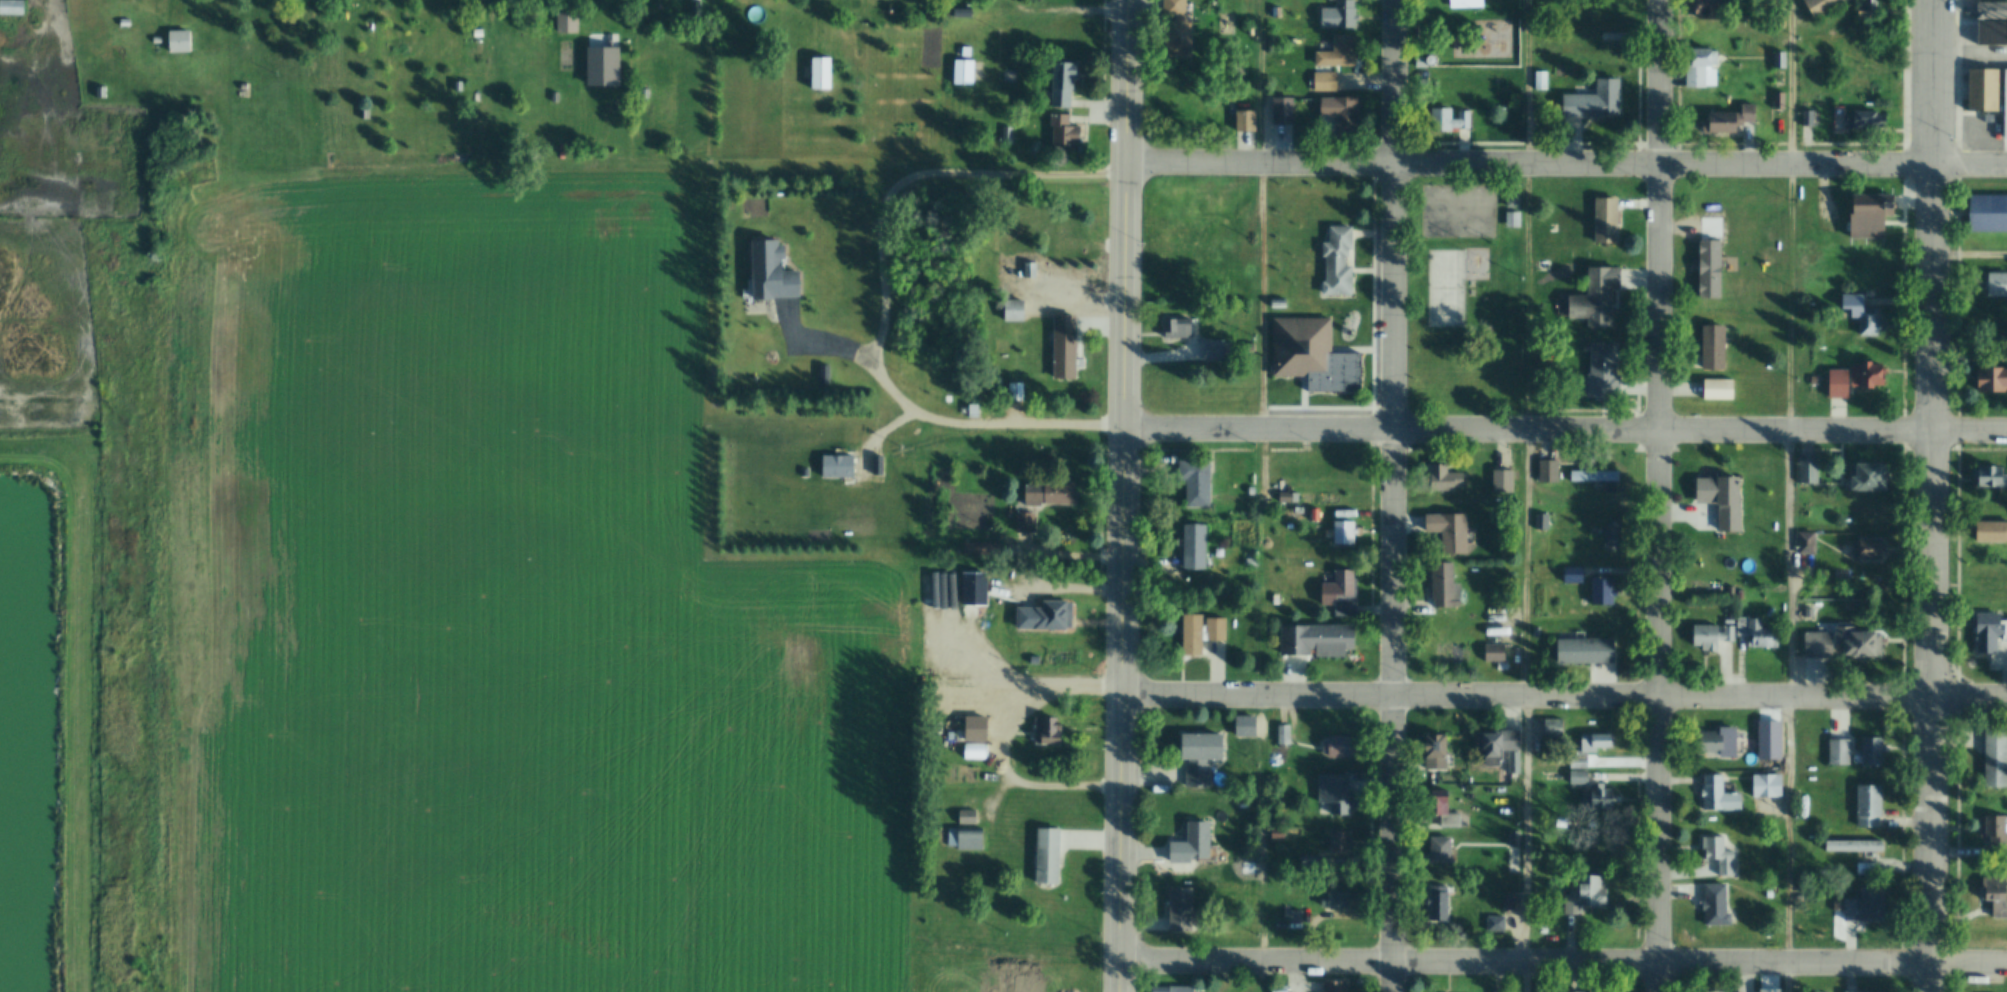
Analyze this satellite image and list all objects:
building: (1541, 1)
building: (1468, 4)
building: (1877, 6)
building: (1828, 7)
building: (12, 9)
building: (696, 9)
building: (1716, 11)
road: (1075, 12)
building: (1613, 12)
building: (1994, 12)
building: (934, 13)
building: (1277, 13)
building: (963, 14)
building: (1341, 16)
building: (567, 22)
building: (123, 23)
building: (1176, 30)
building: (1251, 33)
building: (1995, 33)
building: (477, 34)
building: (155, 41)
building: (179, 42)
building: (1337, 51)
building: (961, 52)
building: (1615, 54)
building: (1436, 61)
building: (1783, 62)
building: (1702, 68)
building: (964, 73)
building: (822, 74)
building: (1326, 82)
building: (1542, 82)
building: (1881, 83)
building: (1063, 84)
building: (242, 87)
building: (458, 87)
building: (1985, 91)
building: (99, 92)
building: (645, 95)
building: (553, 98)
building: (1596, 102)
building: (1781, 102)
building: (2006, 105)
building: (1283, 111)
building: (1344, 113)
building: (364, 114)
building: (1450, 120)
building: (1734, 120)
building: (1811, 120)
building: (1246, 121)
building: (1874, 121)
building: (1065, 132)
building: (1005, 135)
road: (1569, 162)
road: (918, 173)
building: (1513, 199)
park: (1457, 212)
building: (1990, 214)
building: (1874, 216)
building: (1513, 221)
building: (1607, 222)
building: (1061, 229)
building: (987, 235)
building: (1245, 256)
building: (1342, 261)
building: (1029, 271)
building: (773, 274)
building: (1163, 275)
building: (1071, 280)
building: (1999, 286)
park: (1445, 289)
park: (1466, 297)
building: (1598, 298)
building: (1721, 298)
building: (1278, 305)
building: (1014, 310)
building: (1865, 315)
building: (1178, 329)
road: (803, 342)
building: (1065, 347)
building: (1714, 347)
building: (1214, 351)
building: (1315, 357)
building: (1603, 372)
building: (1873, 376)
building: (1994, 381)
building: (1842, 385)
building: (1719, 390)
building: (1016, 392)
building: (948, 399)
building: (974, 411)
road: (975, 424)
road: (1567, 431)
building: (1810, 470)
building: (1549, 472)
building: (1596, 476)
building: (1994, 478)
building: (1875, 479)
building: (1447, 480)
building: (1197, 482)
building: (1251, 491)
building: (1050, 492)
building: (1716, 492)
road: (1127, 495)
building: (1284, 496)
road: (1400, 496)
road: (1663, 496)
road: (1803, 496)
road: (1938, 496)
building: (1299, 510)
building: (1543, 520)
building: (1025, 522)
building: (1346, 532)
building: (1453, 532)
building: (1994, 533)
building: (1609, 535)
building: (1808, 543)
building: (1195, 547)
building: (1873, 550)
road: (1066, 554)
building: (1730, 555)
building: (1250, 561)
building: (1575, 574)
building: (1444, 583)
building: (1602, 590)
building: (1342, 592)
building: (1276, 599)
building: (1046, 616)
building: (1218, 628)
building: (1991, 630)
building: (1760, 631)
building: (1193, 634)
building: (1714, 635)
building: (1319, 638)
building: (1821, 644)
building: (1869, 644)
building: (1588, 650)
building: (1496, 652)
building: (1503, 666)
road: (1021, 692)
road: (1566, 699)
building: (976, 728)
building: (1046, 730)
building: (1283, 734)
building: (1771, 734)
building: (1720, 741)
building: (1498, 745)
building: (971, 746)
building: (1338, 746)
building: (1591, 748)
building: (1437, 750)
building: (1875, 751)
building: (1840, 752)
building: (1998, 754)
building: (1201, 757)
building: (1768, 786)
building: (1336, 791)
building: (1720, 795)
building: (1604, 799)
building: (1870, 805)
building: (1445, 808)
building: (965, 818)
building: (1998, 832)
building: (1276, 834)
building: (963, 839)
building: (1515, 839)
building: (1339, 841)
building: (1193, 844)
building: (1856, 846)
building: (1442, 850)
building: (1720, 855)
building: (1048, 856)
building: (1308, 863)
building: (1243, 865)
building: (1868, 869)
building: (1554, 884)
building: (1510, 892)
building: (1595, 892)
building: (1997, 894)
building: (1336, 900)
building: (1440, 904)
building: (1837, 905)
building: (1718, 906)
building: (1868, 906)
building: (1181, 910)
building: (1292, 916)
road: (1565, 964)
building: (1335, 986)
building: (1280, 988)
building: (1173, 989)
building: (1499, 991)
building: (1607, 991)
building: (1860, 991)

